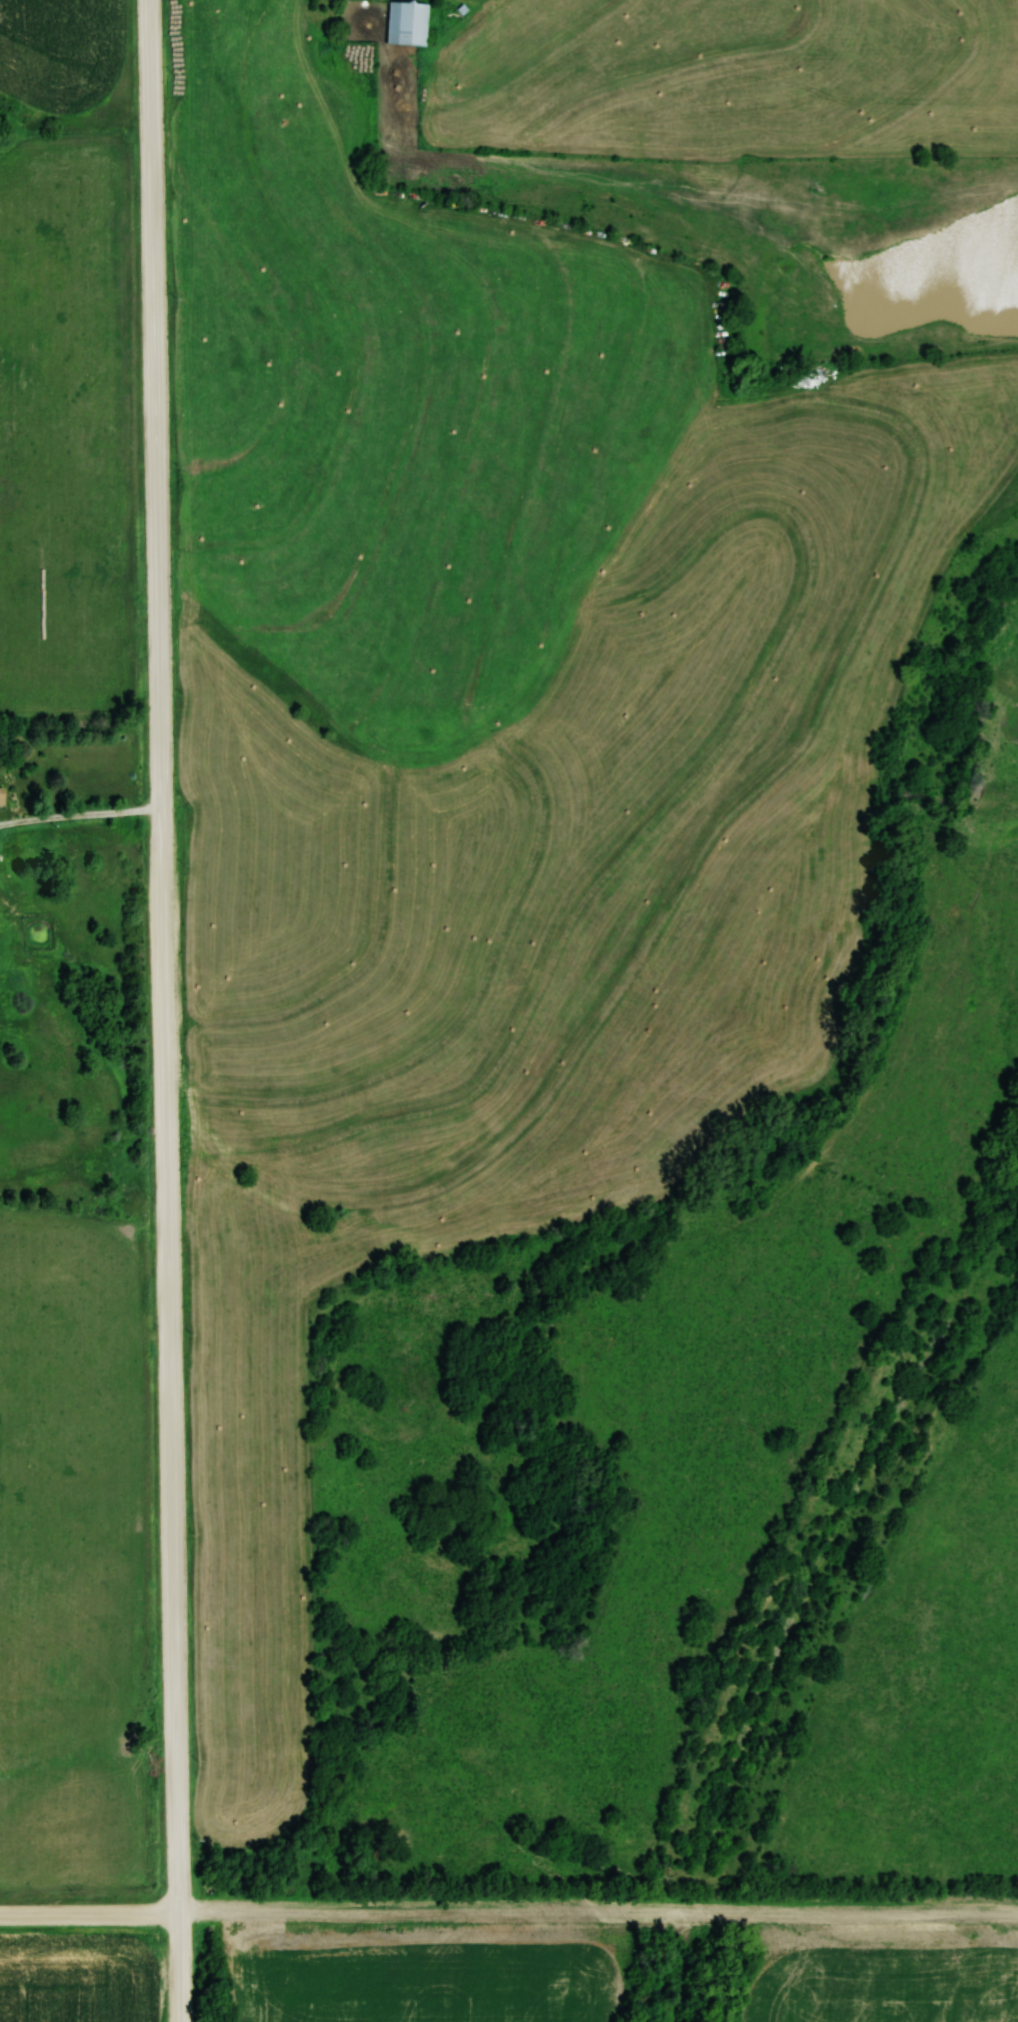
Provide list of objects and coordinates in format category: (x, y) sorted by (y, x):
building: (406, 23)
building: (1, 795)
road: (163, 1010)
road: (508, 1915)

